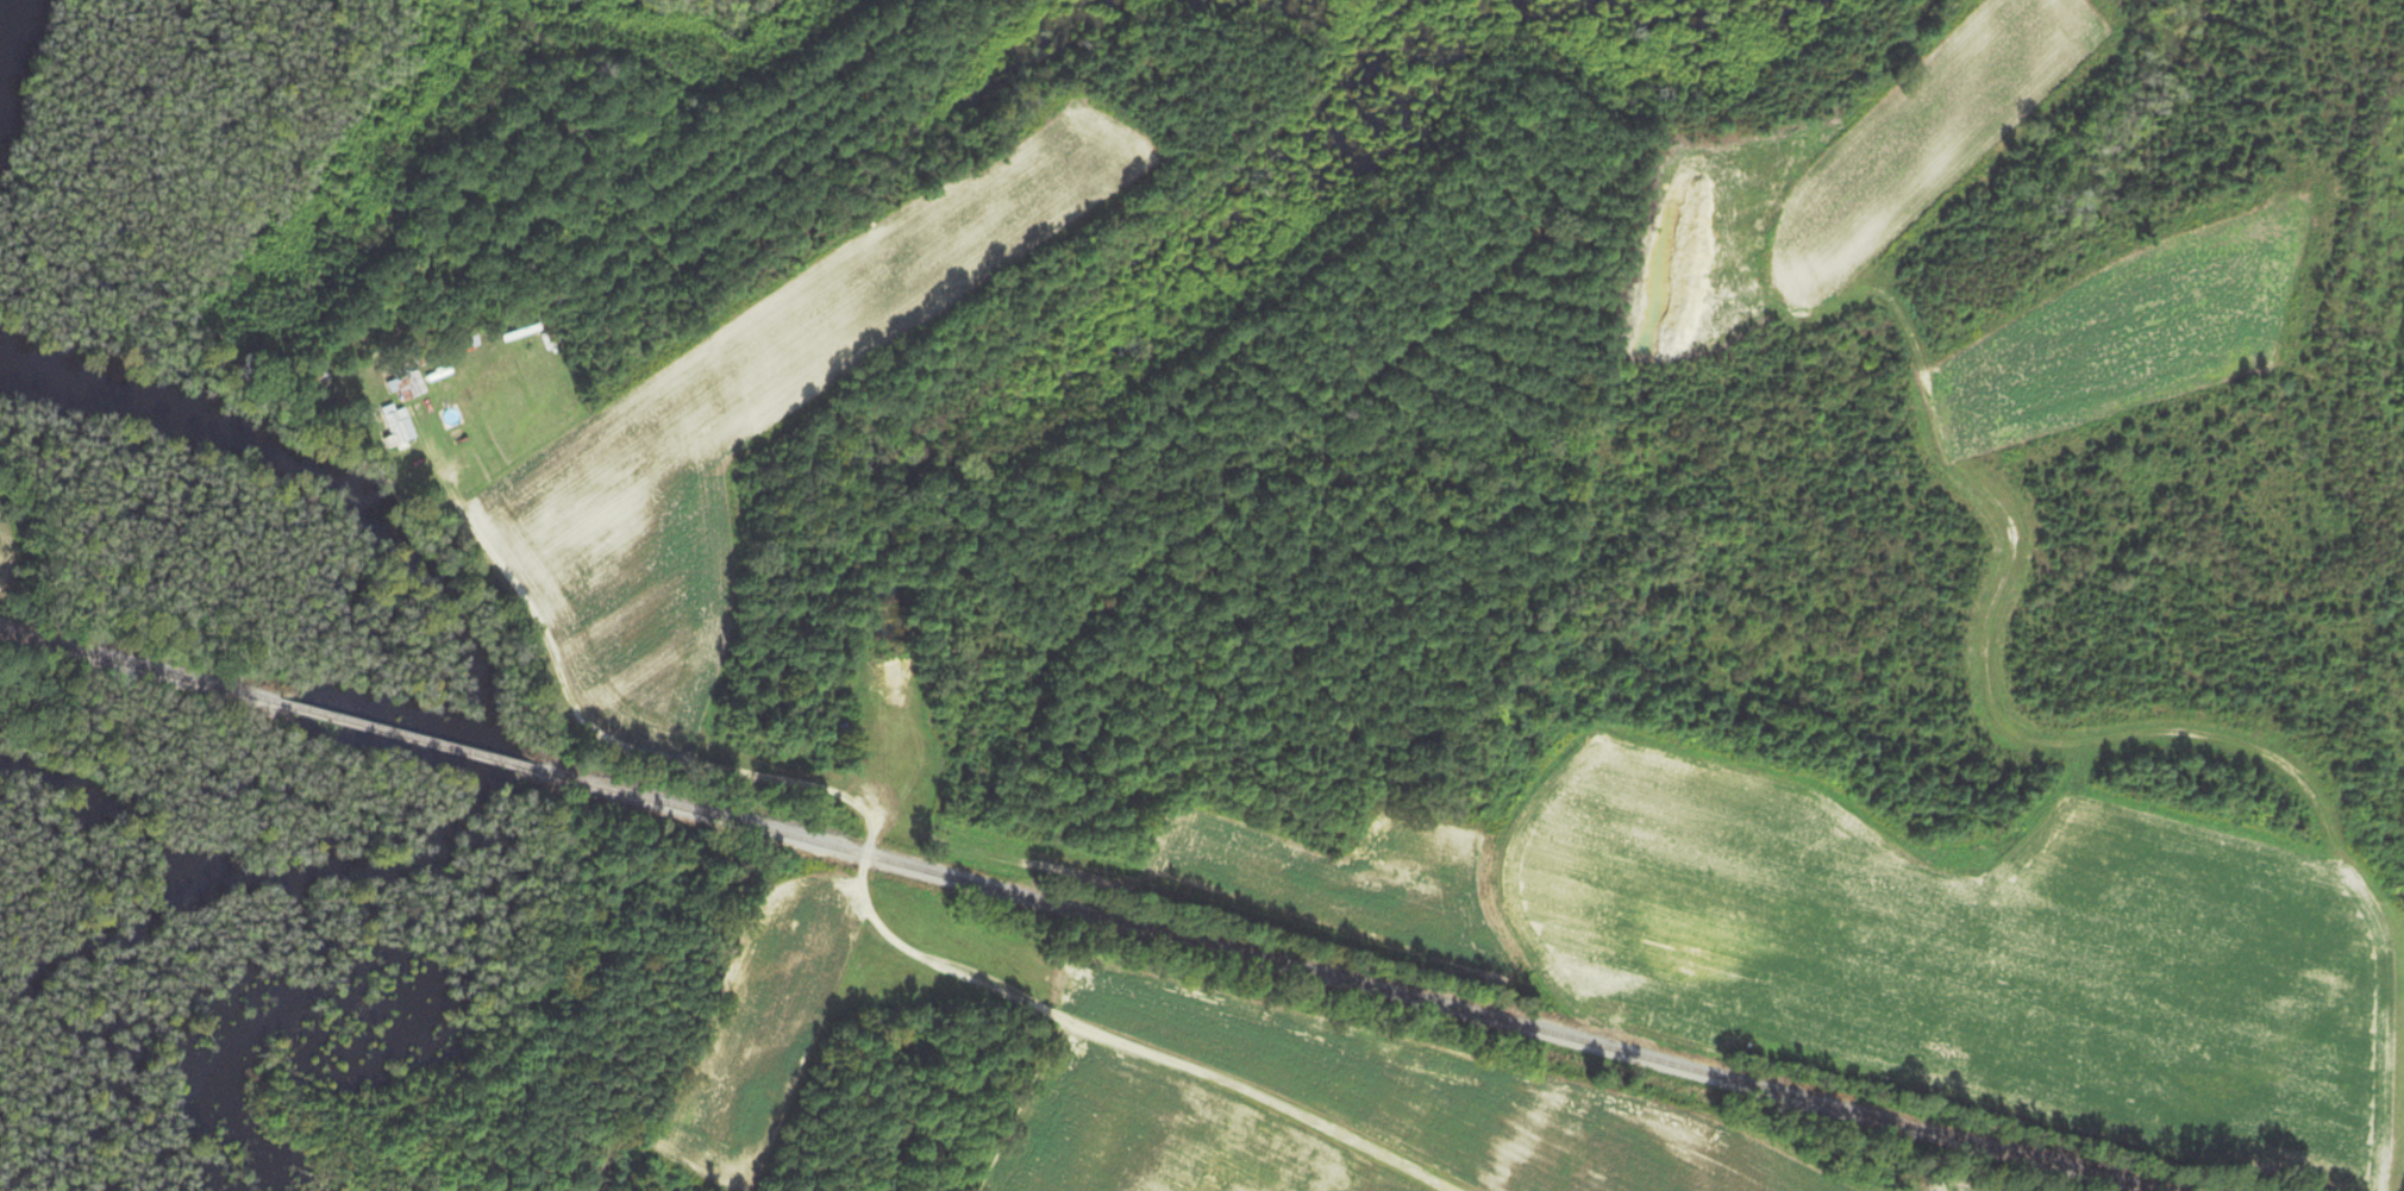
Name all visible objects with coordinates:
building: (408, 387)
building: (397, 428)
railway: (1078, 911)
road: (1415, 1140)

